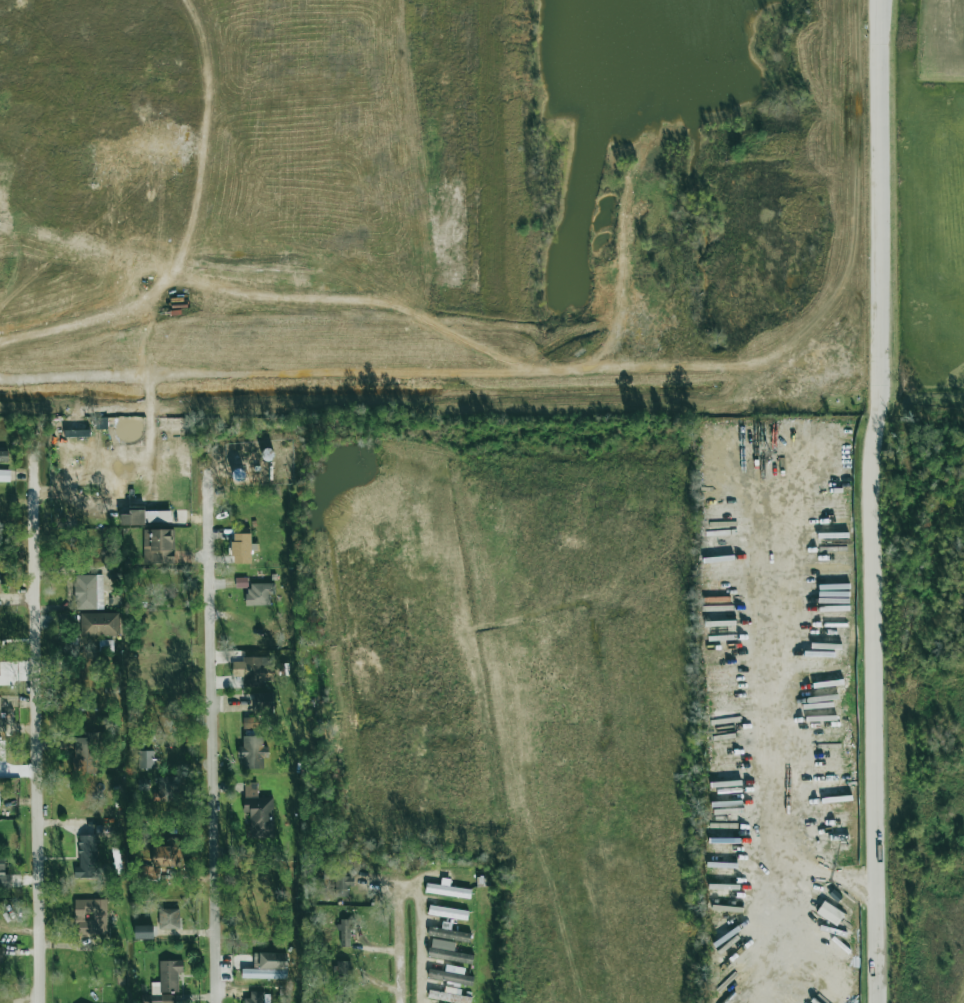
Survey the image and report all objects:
landfill: (413, 203)
road: (869, 208)
building: (3, 456)
building: (133, 516)
building: (153, 516)
building: (158, 546)
building: (241, 548)
building: (88, 592)
building: (259, 593)
building: (99, 624)
building: (105, 645)
building: (254, 670)
building: (262, 698)
building: (0, 701)
road: (773, 701)
road: (870, 709)
building: (250, 723)
road: (36, 725)
road: (208, 733)
building: (252, 751)
building: (84, 752)
building: (145, 759)
building: (257, 812)
building: (87, 857)
building: (161, 860)
building: (3, 874)
building: (341, 881)
building: (447, 889)
road: (851, 889)
road: (751, 911)
building: (447, 912)
building: (829, 913)
building: (90, 915)
building: (168, 919)
building: (143, 932)
building: (344, 933)
road: (397, 933)
building: (447, 933)
road: (419, 937)
building: (0, 955)
building: (449, 955)
building: (266, 966)
building: (341, 968)
building: (450, 975)
building: (166, 982)
building: (800, 992)
building: (448, 996)
building: (254, 997)

